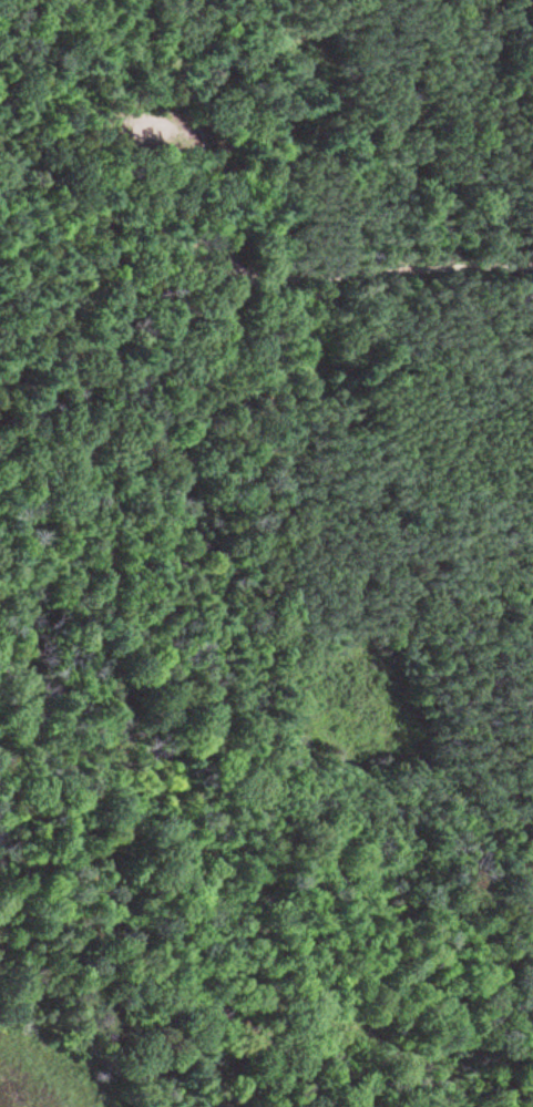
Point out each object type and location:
road: (266, 281)

